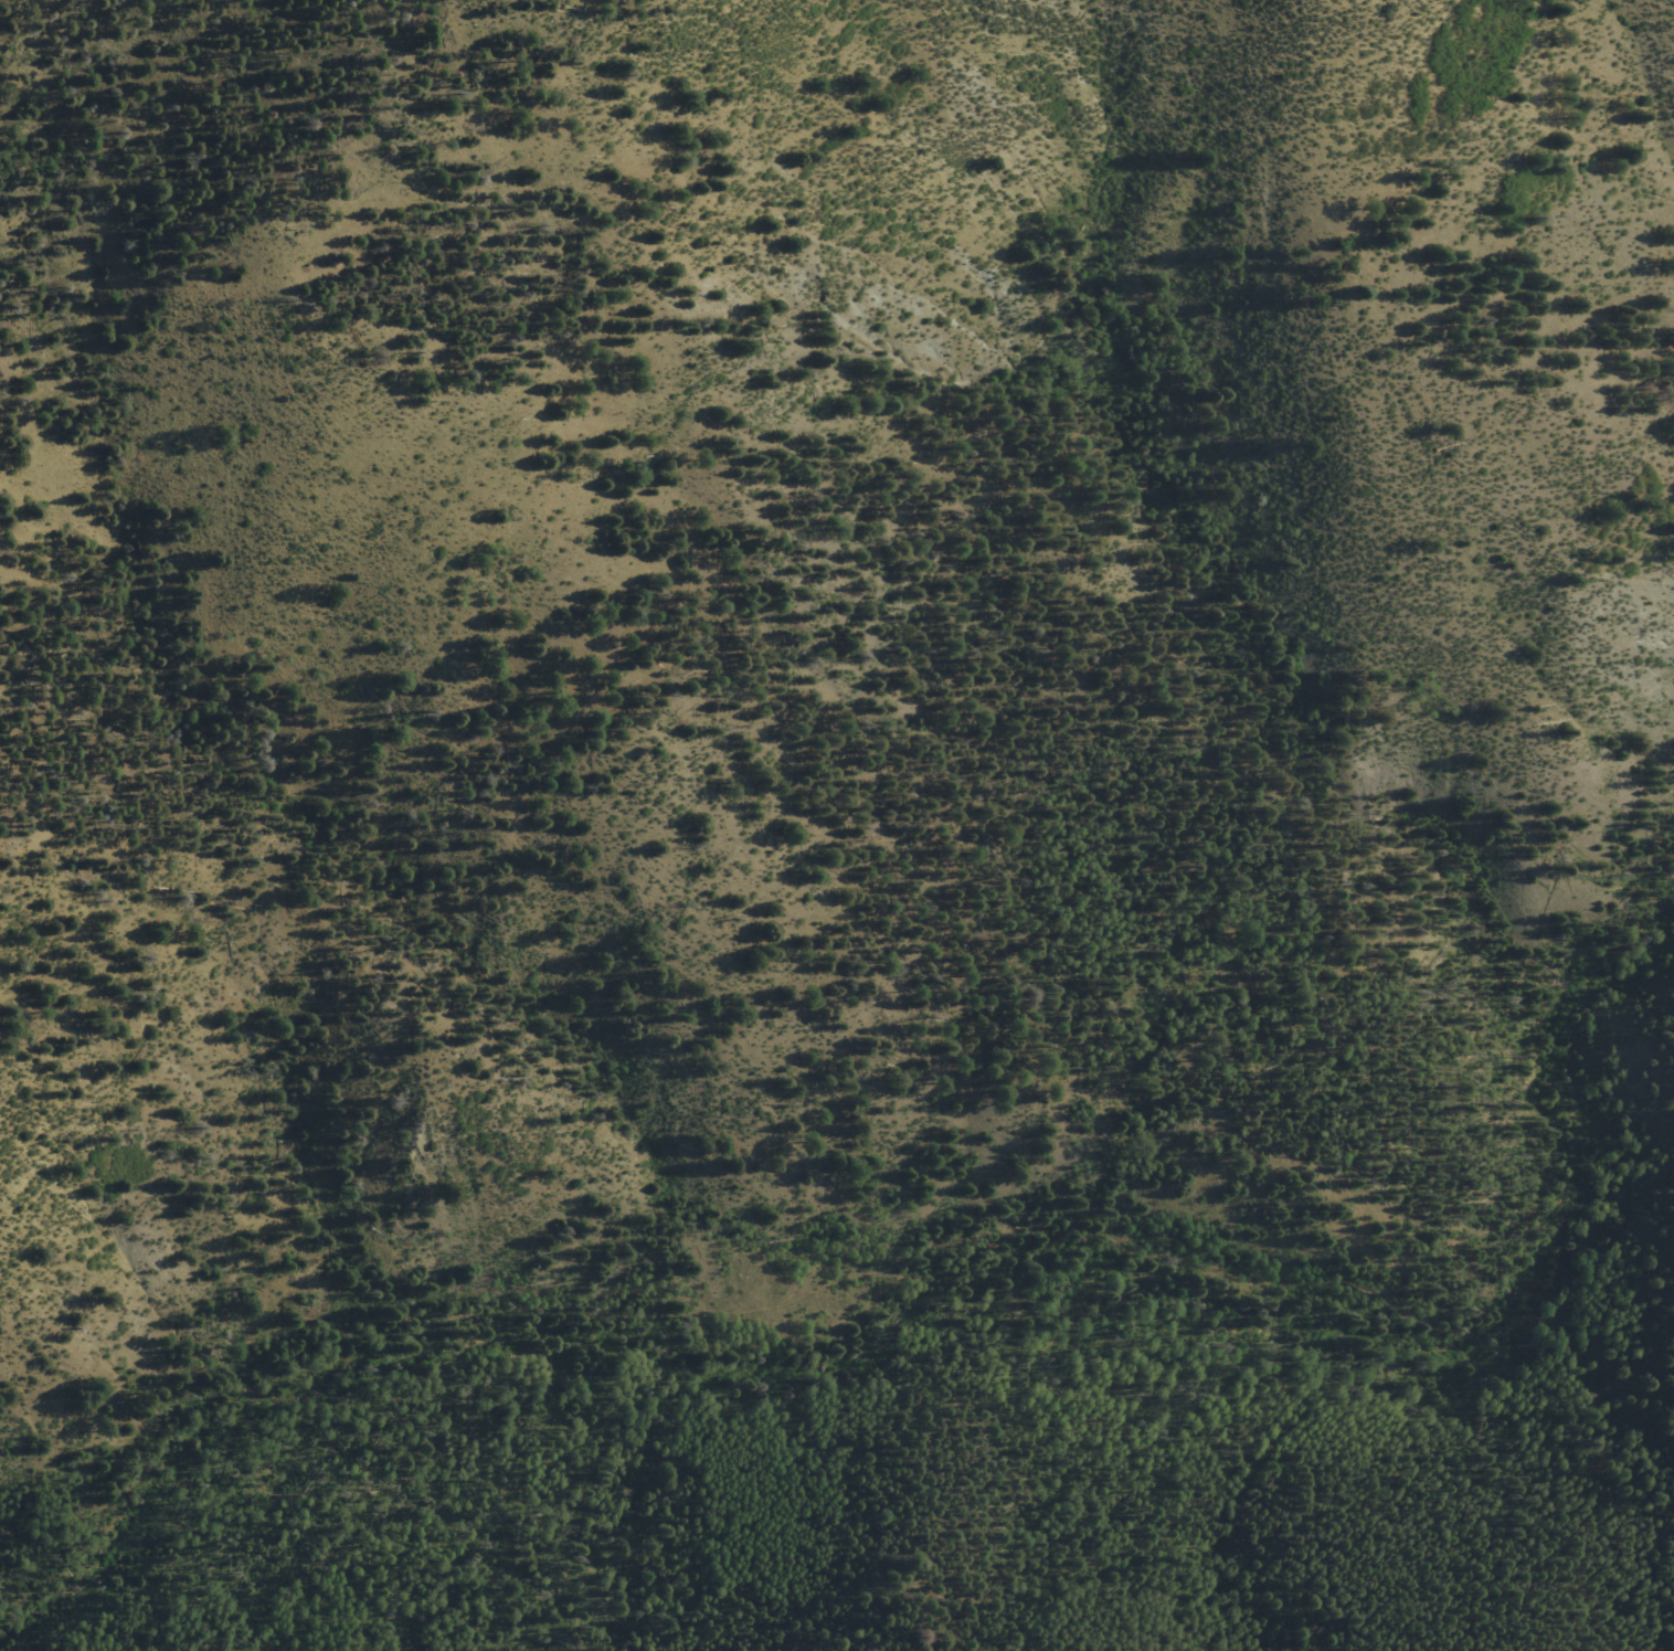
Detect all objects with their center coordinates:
road: (956, 1245)

